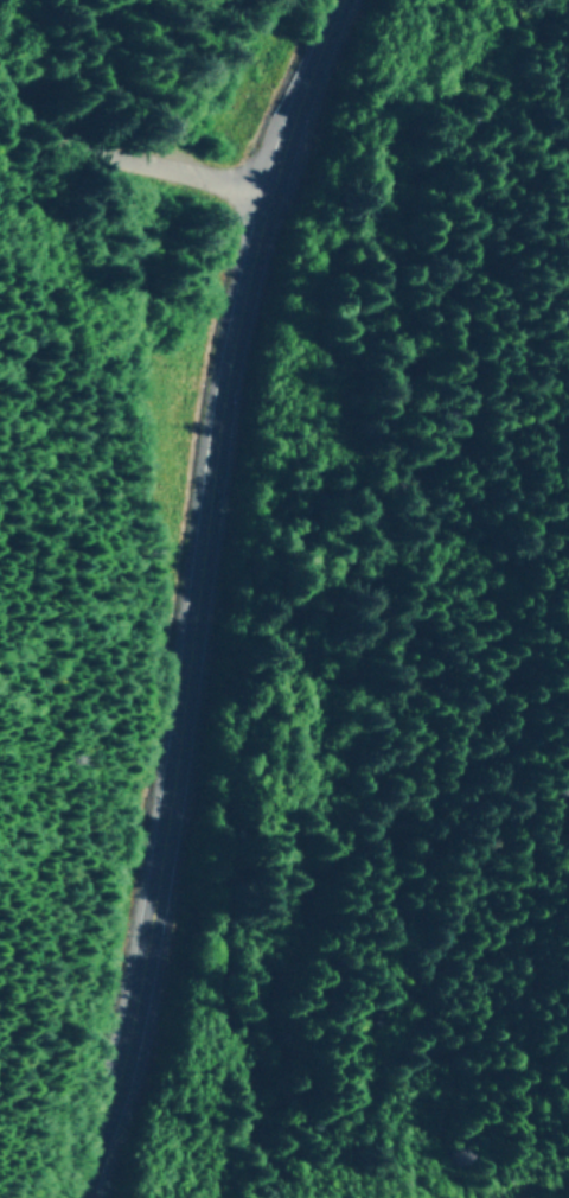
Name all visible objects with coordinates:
road: (127, 153)
road: (204, 594)

